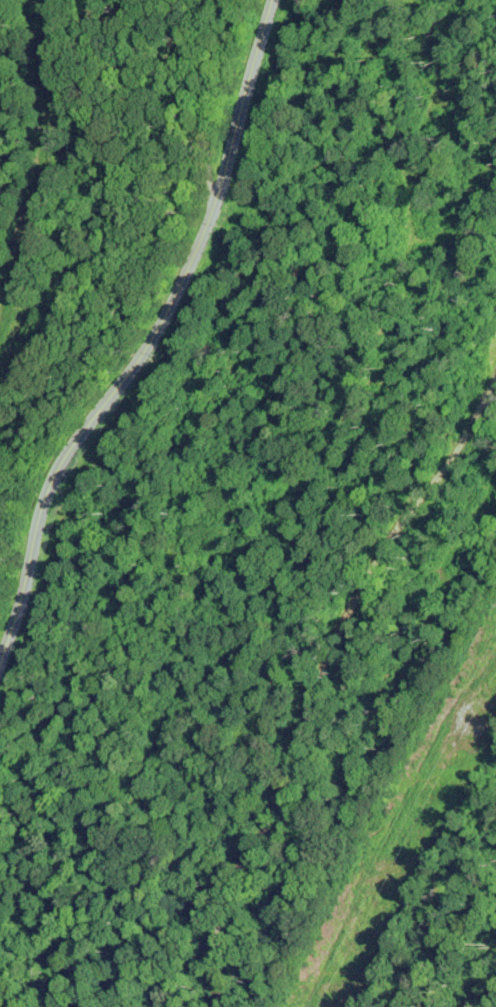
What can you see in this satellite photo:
road: (175, 90)
road: (139, 297)
road: (299, 558)

